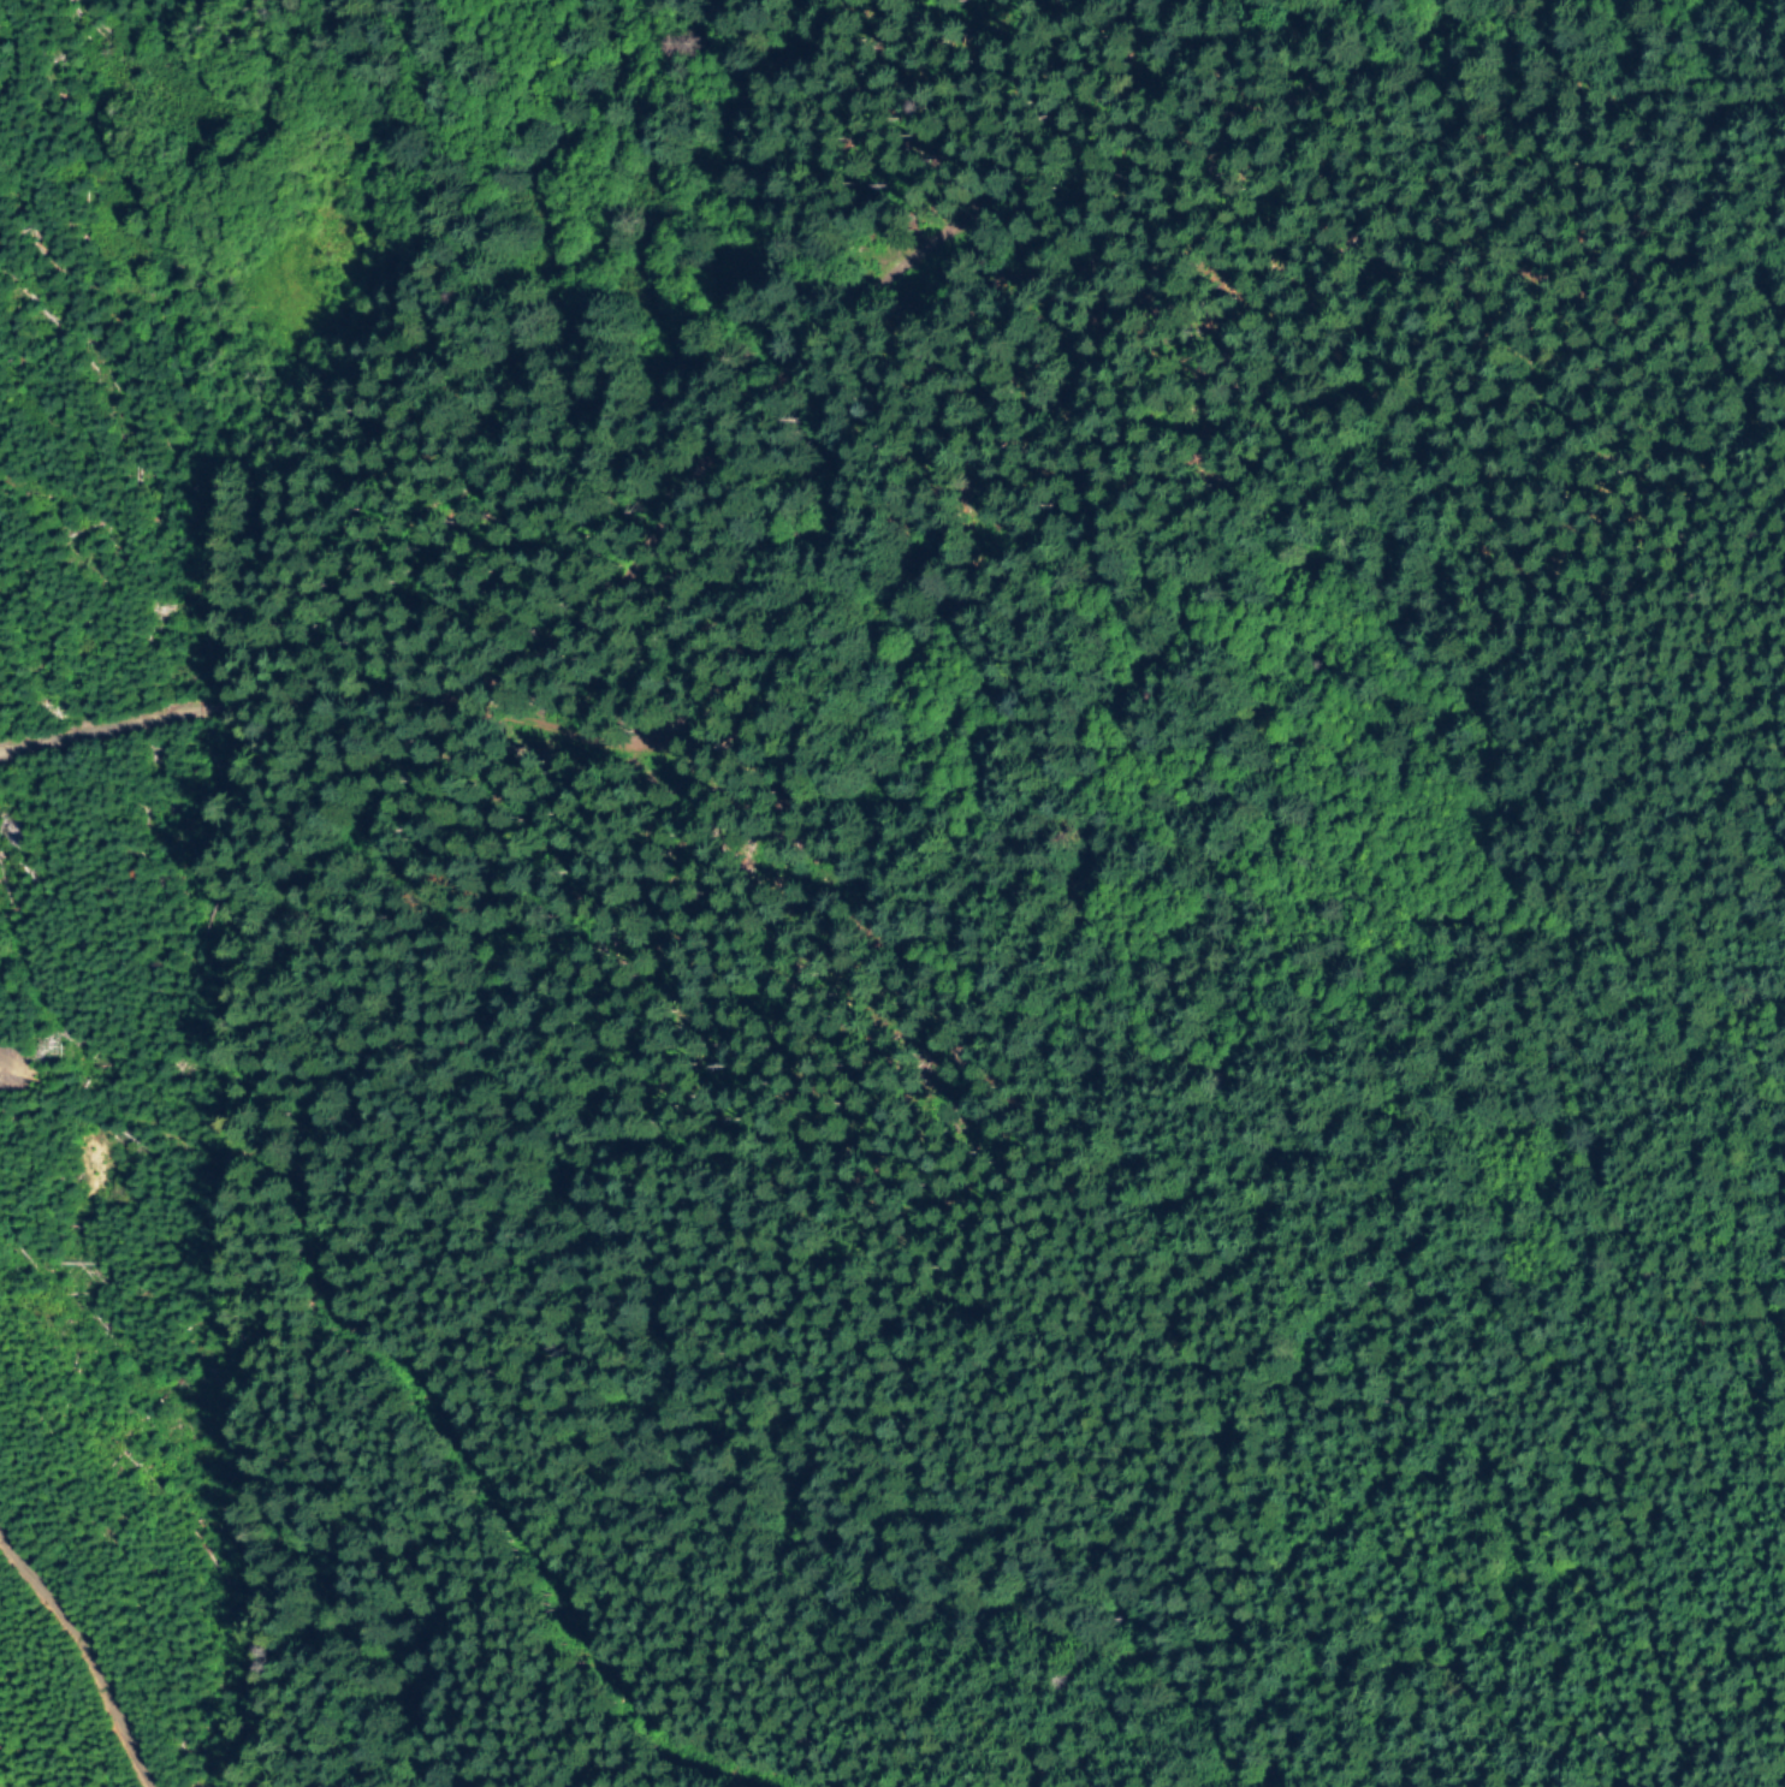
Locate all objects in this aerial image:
road: (556, 498)
road: (688, 1133)

